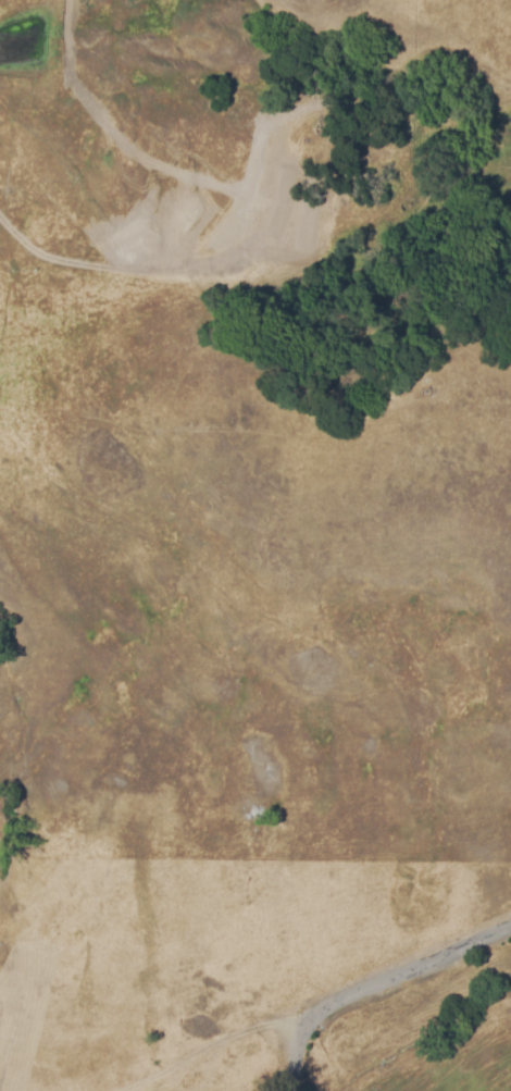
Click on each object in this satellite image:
road: (375, 983)

